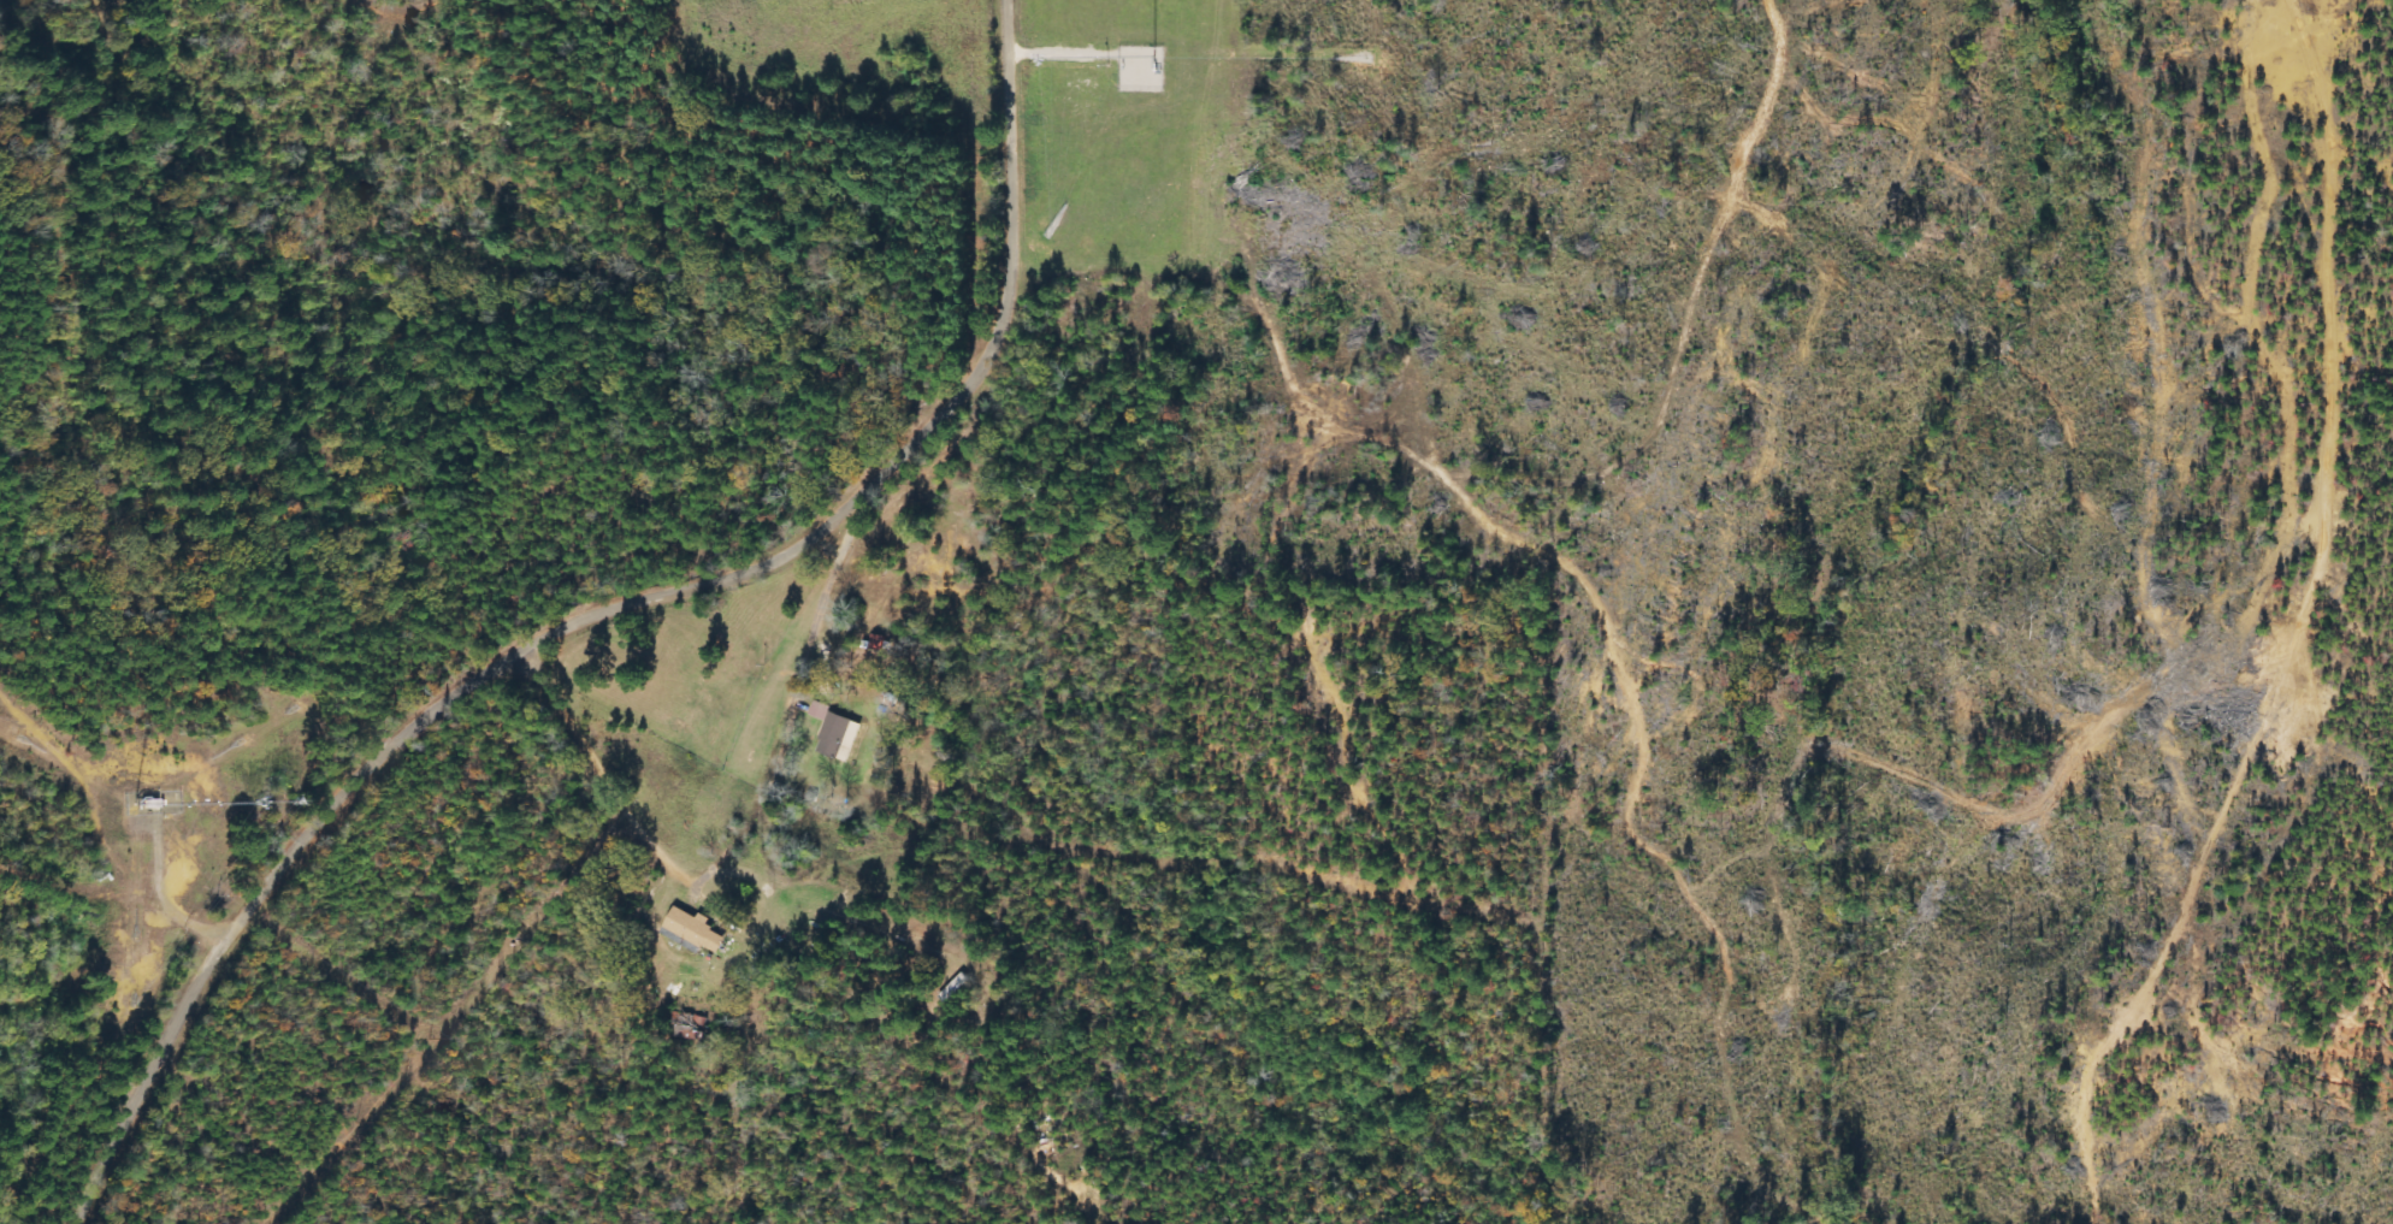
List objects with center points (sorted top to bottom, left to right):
road: (619, 616)
building: (838, 733)
road: (728, 877)
building: (699, 929)
building: (686, 940)

